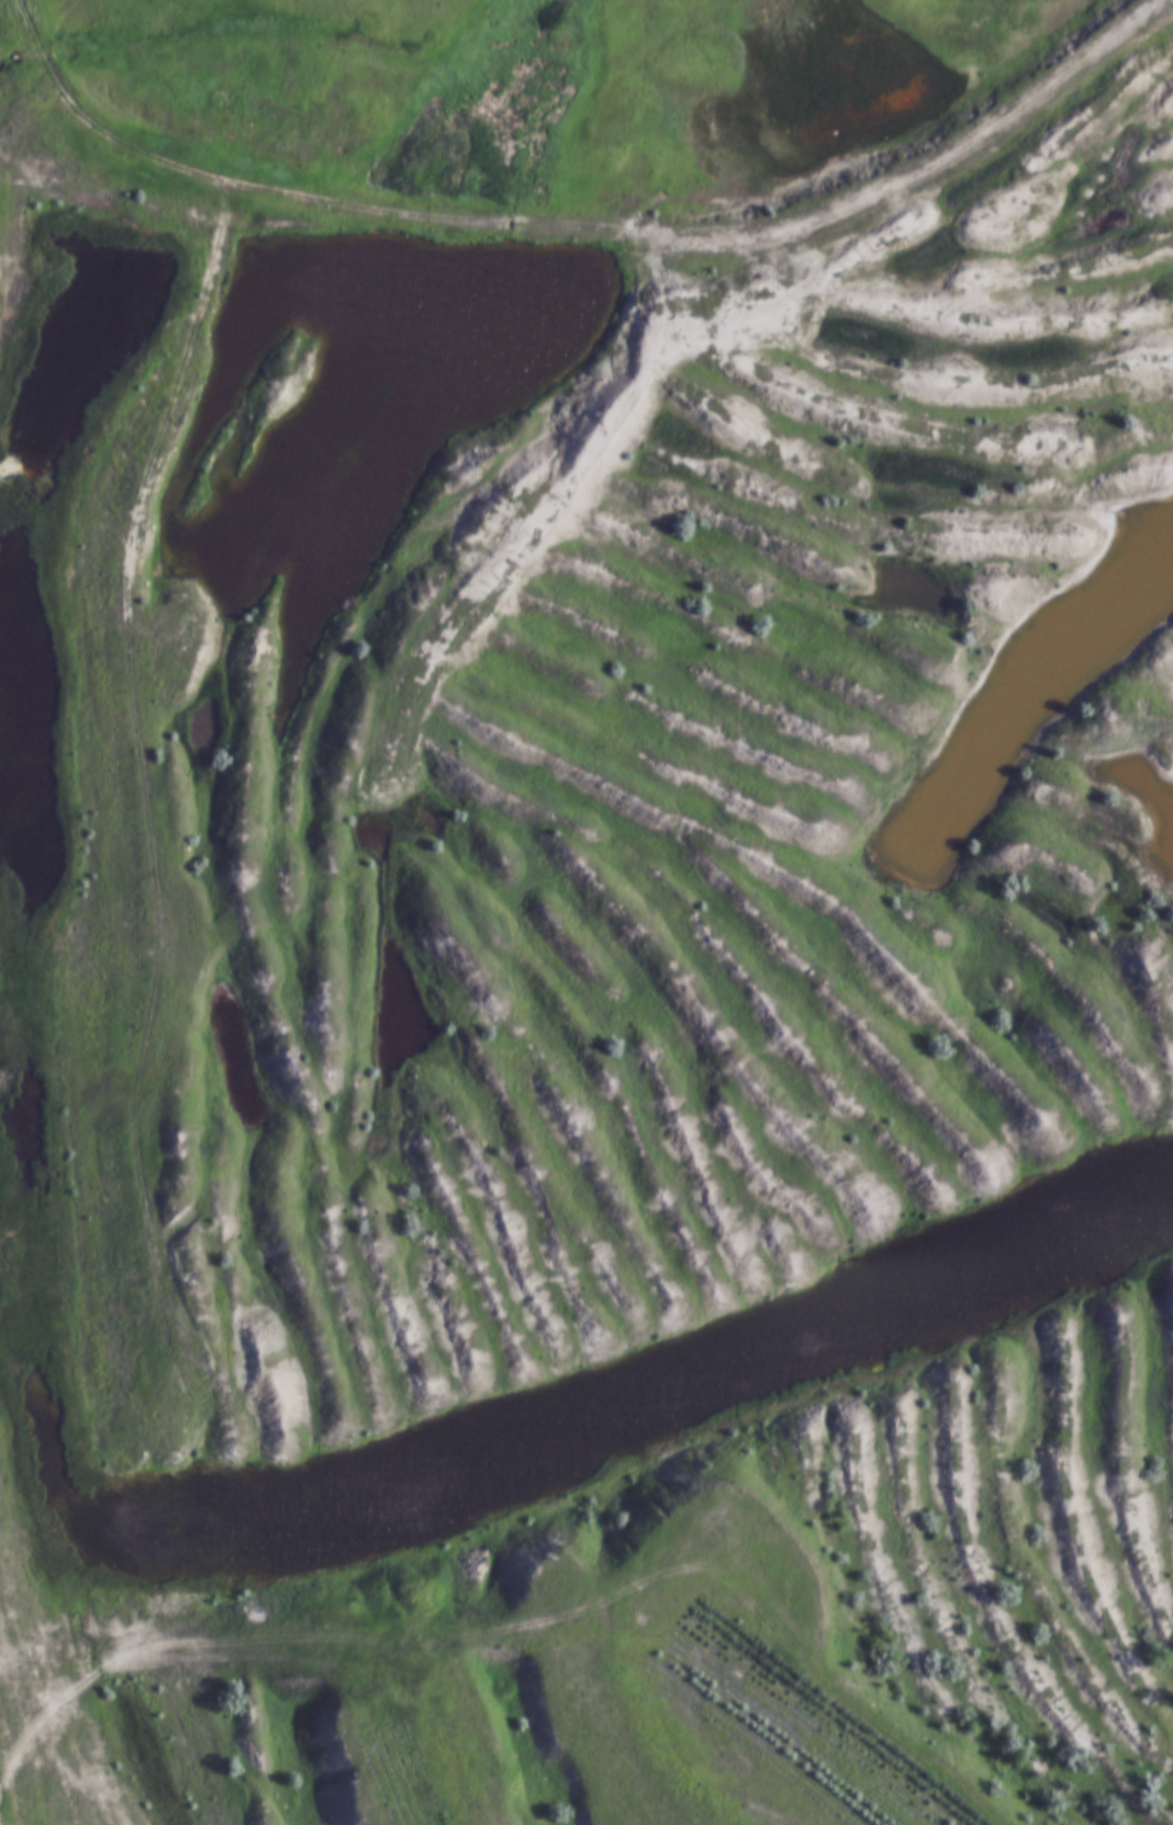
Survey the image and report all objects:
road: (28, 115)
road: (575, 225)
quarry: (590, 978)
road: (7, 1788)

